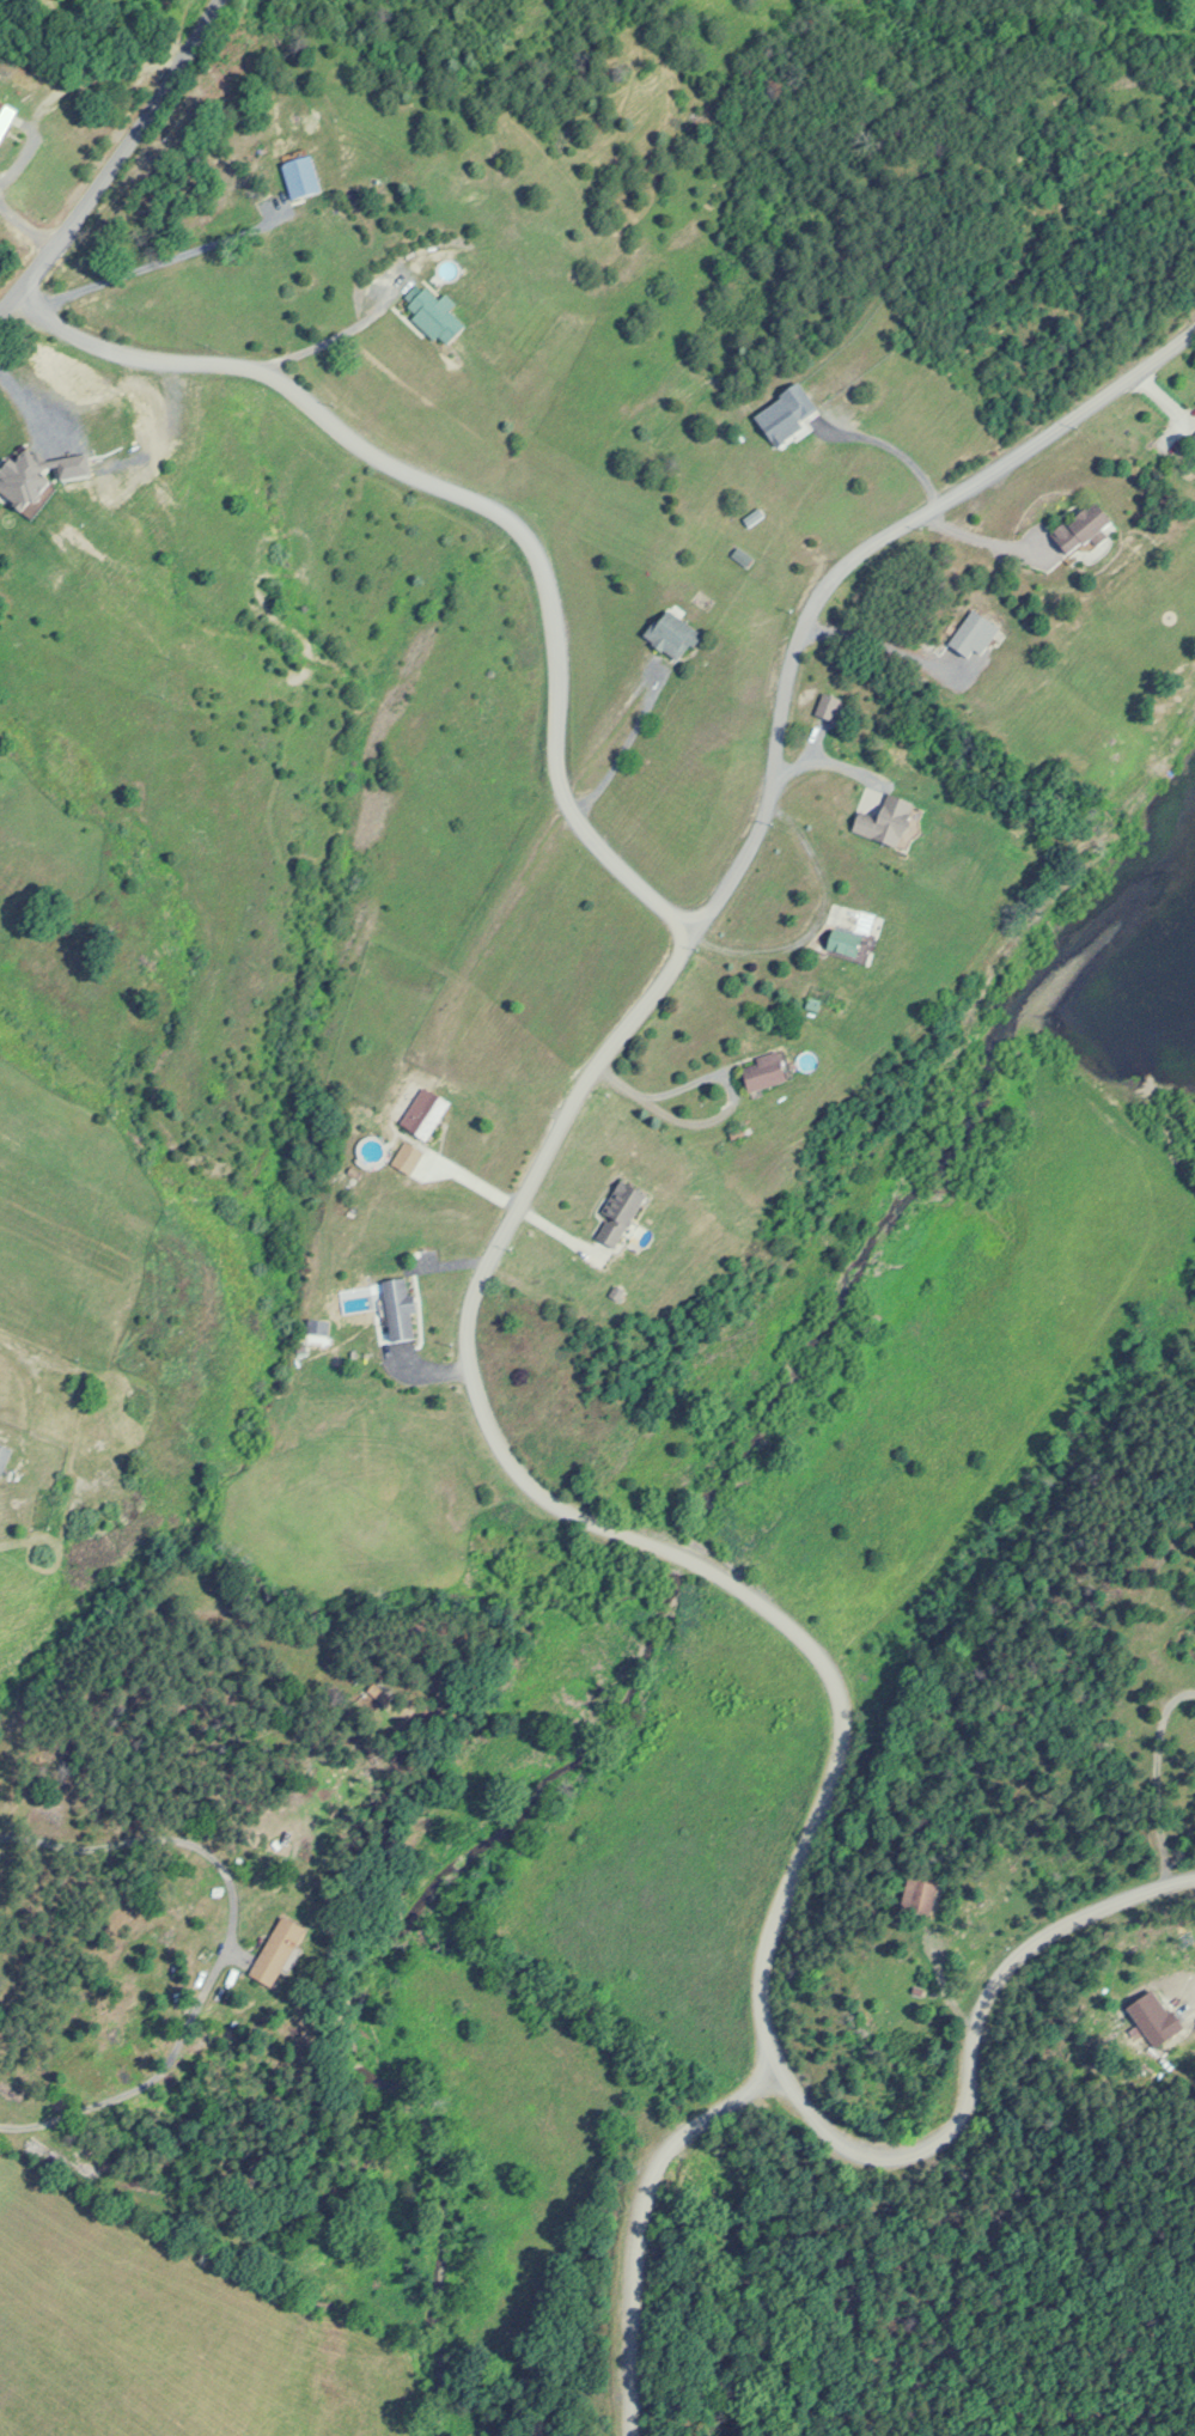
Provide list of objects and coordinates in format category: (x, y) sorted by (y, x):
road: (116, 159)
road: (847, 554)
road: (464, 1357)
road: (632, 2219)

